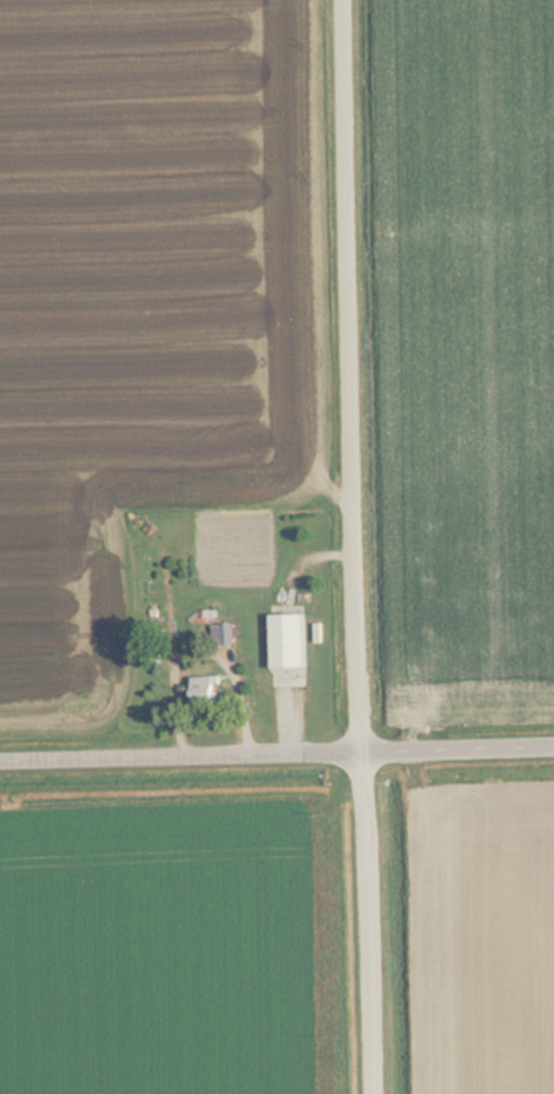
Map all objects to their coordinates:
road: (361, 546)
building: (224, 634)
building: (289, 639)
building: (205, 687)
road: (277, 744)

